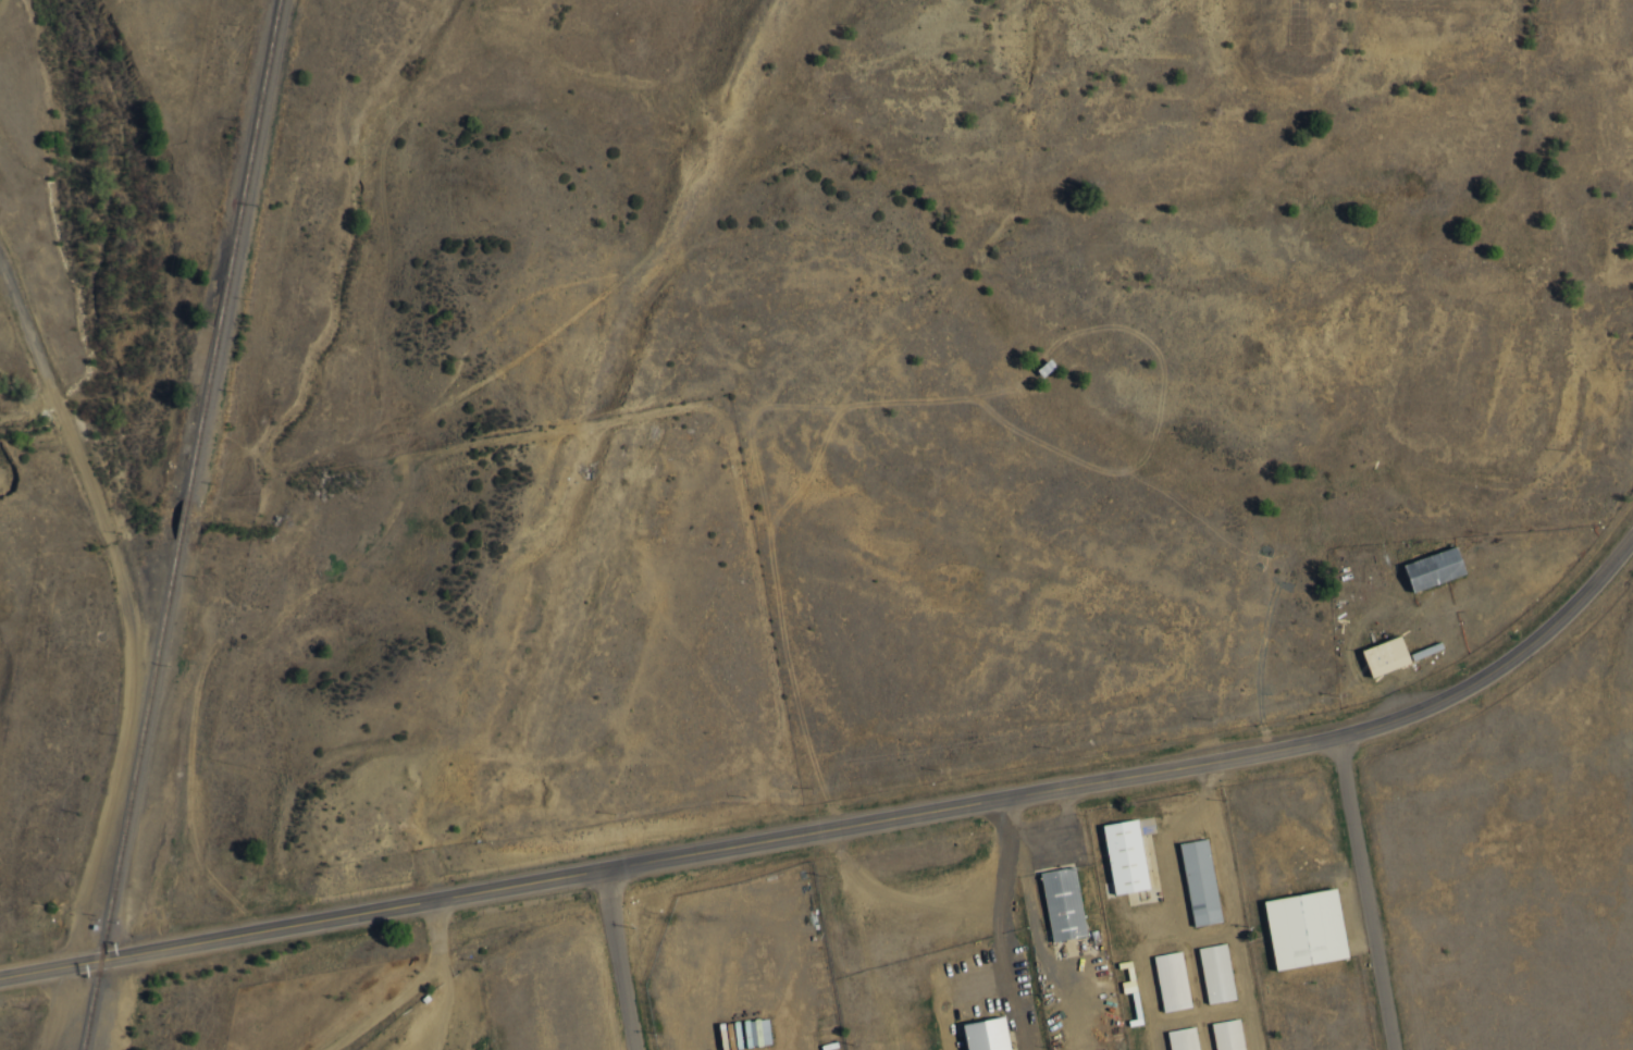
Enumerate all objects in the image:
railway: (228, 250)
railway: (176, 522)
building: (1424, 567)
building: (1374, 653)
railway: (125, 796)
road: (849, 825)
building: (1116, 853)
road: (1002, 877)
building: (1192, 879)
road: (1372, 891)
road: (901, 893)
building: (1054, 900)
building: (1296, 926)
road: (617, 959)
building: (1209, 971)
building: (1163, 977)
road: (447, 979)
road: (942, 987)
road: (1006, 1004)
road: (42, 1009)
building: (757, 1032)
building: (975, 1034)
building: (1220, 1034)
building: (1174, 1037)

